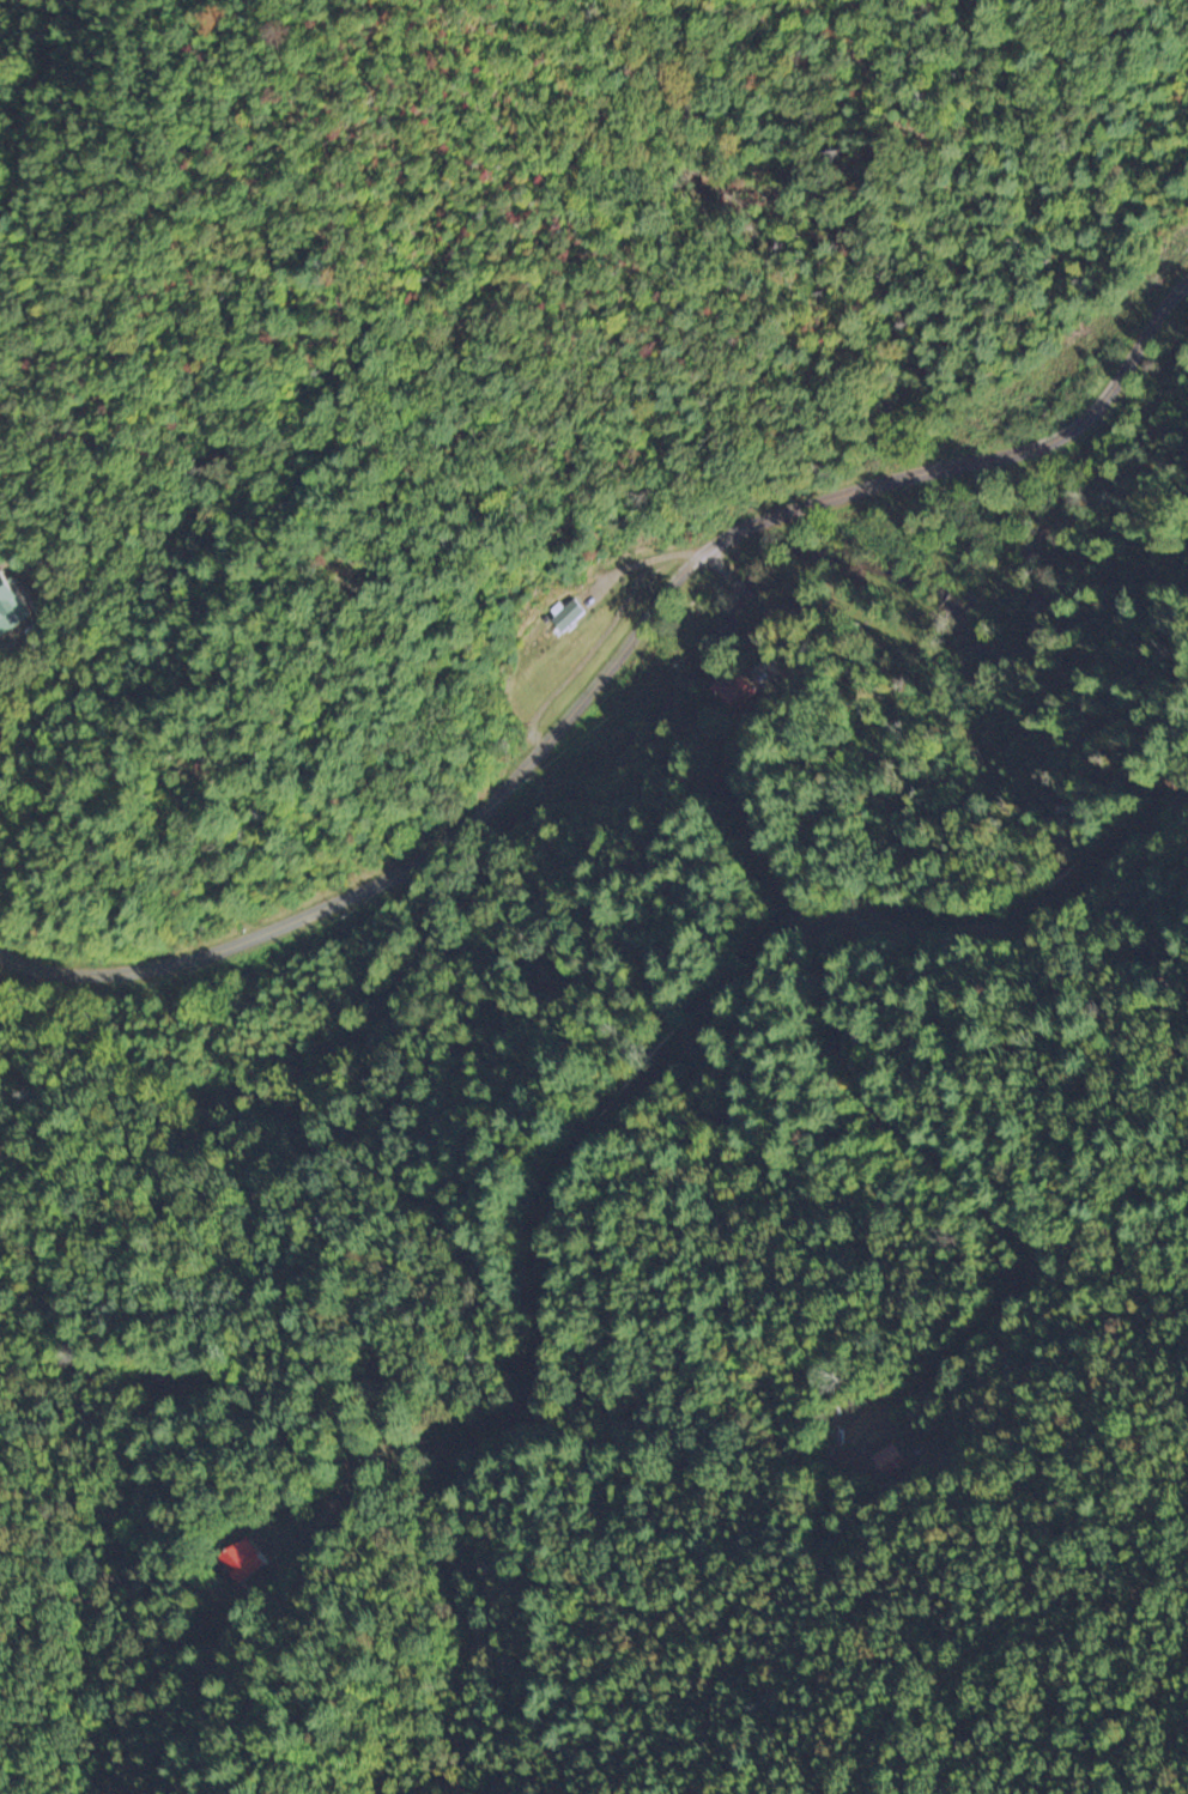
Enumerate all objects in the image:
building: (11, 607)
building: (565, 614)
road: (612, 660)
building: (733, 689)
building: (890, 1459)
building: (246, 1559)

